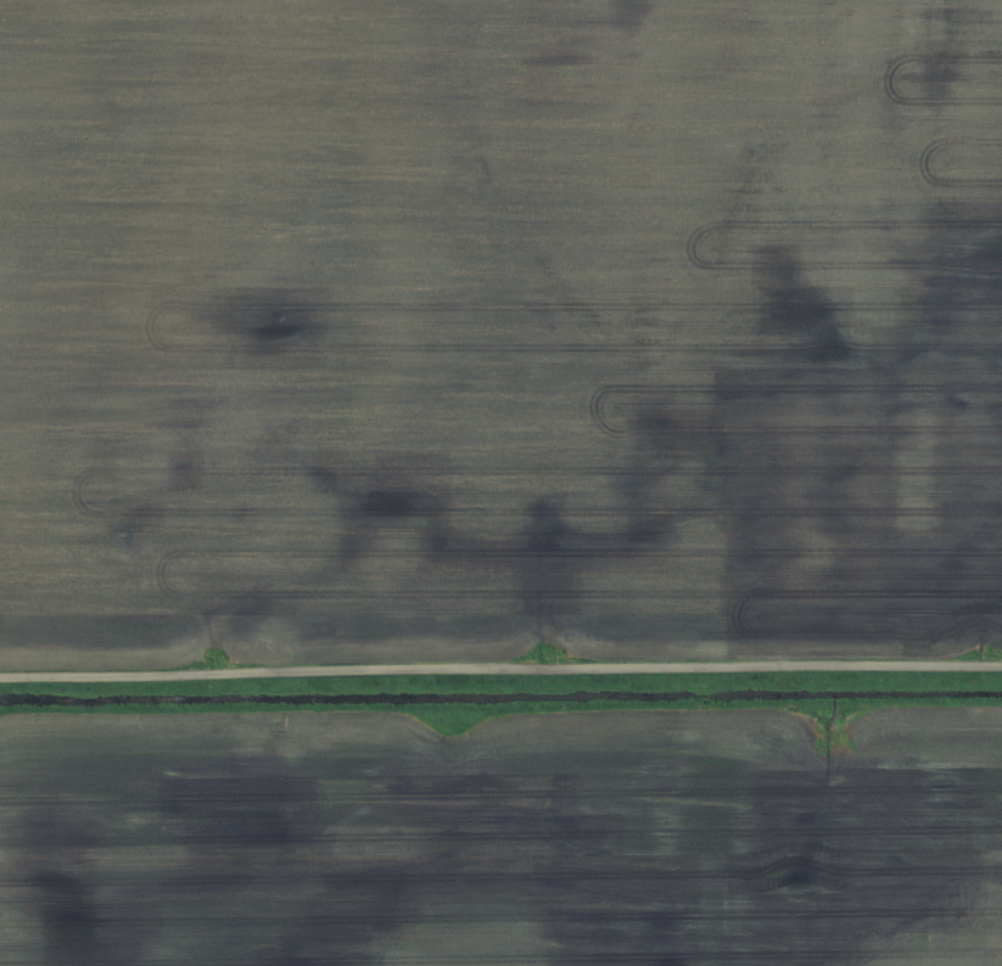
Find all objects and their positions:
road: (500, 671)

